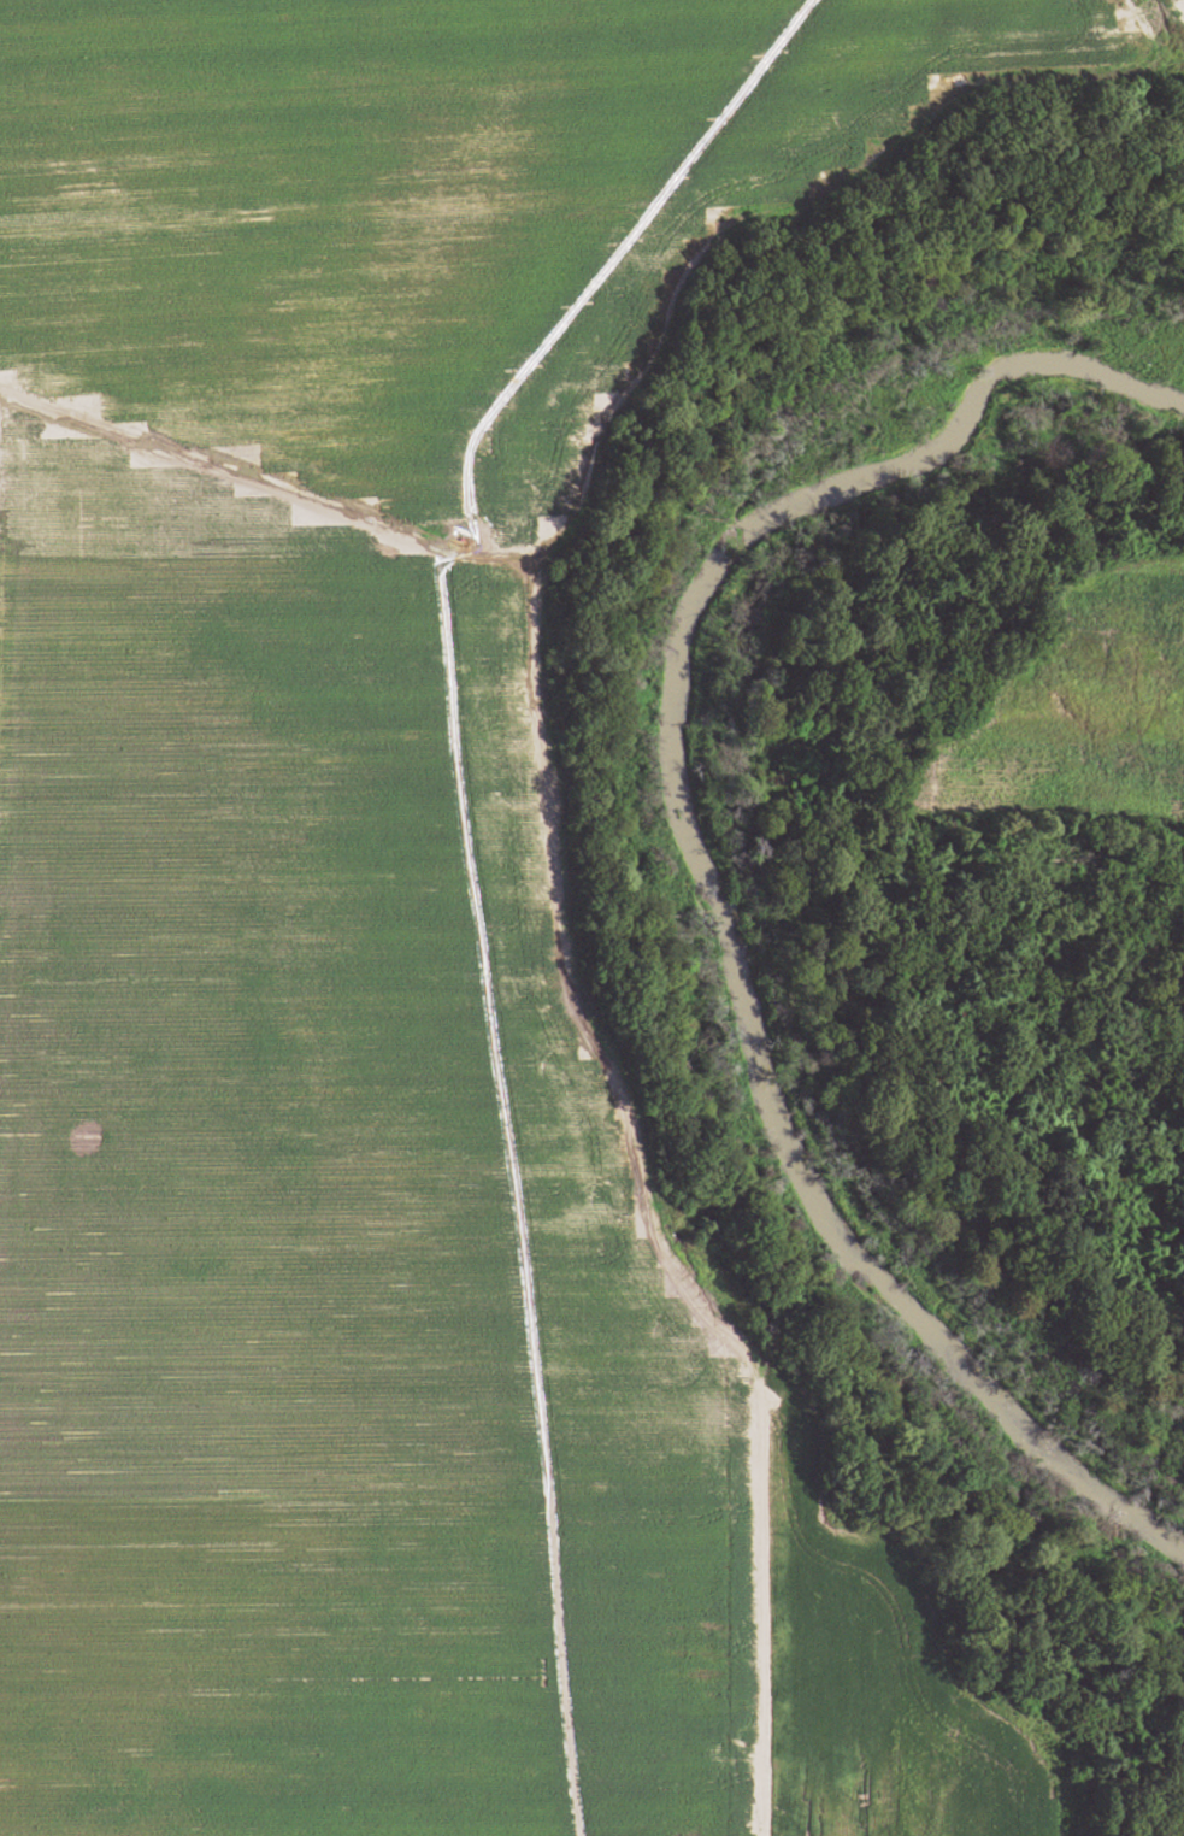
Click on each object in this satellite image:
road: (619, 428)
river: (706, 861)

